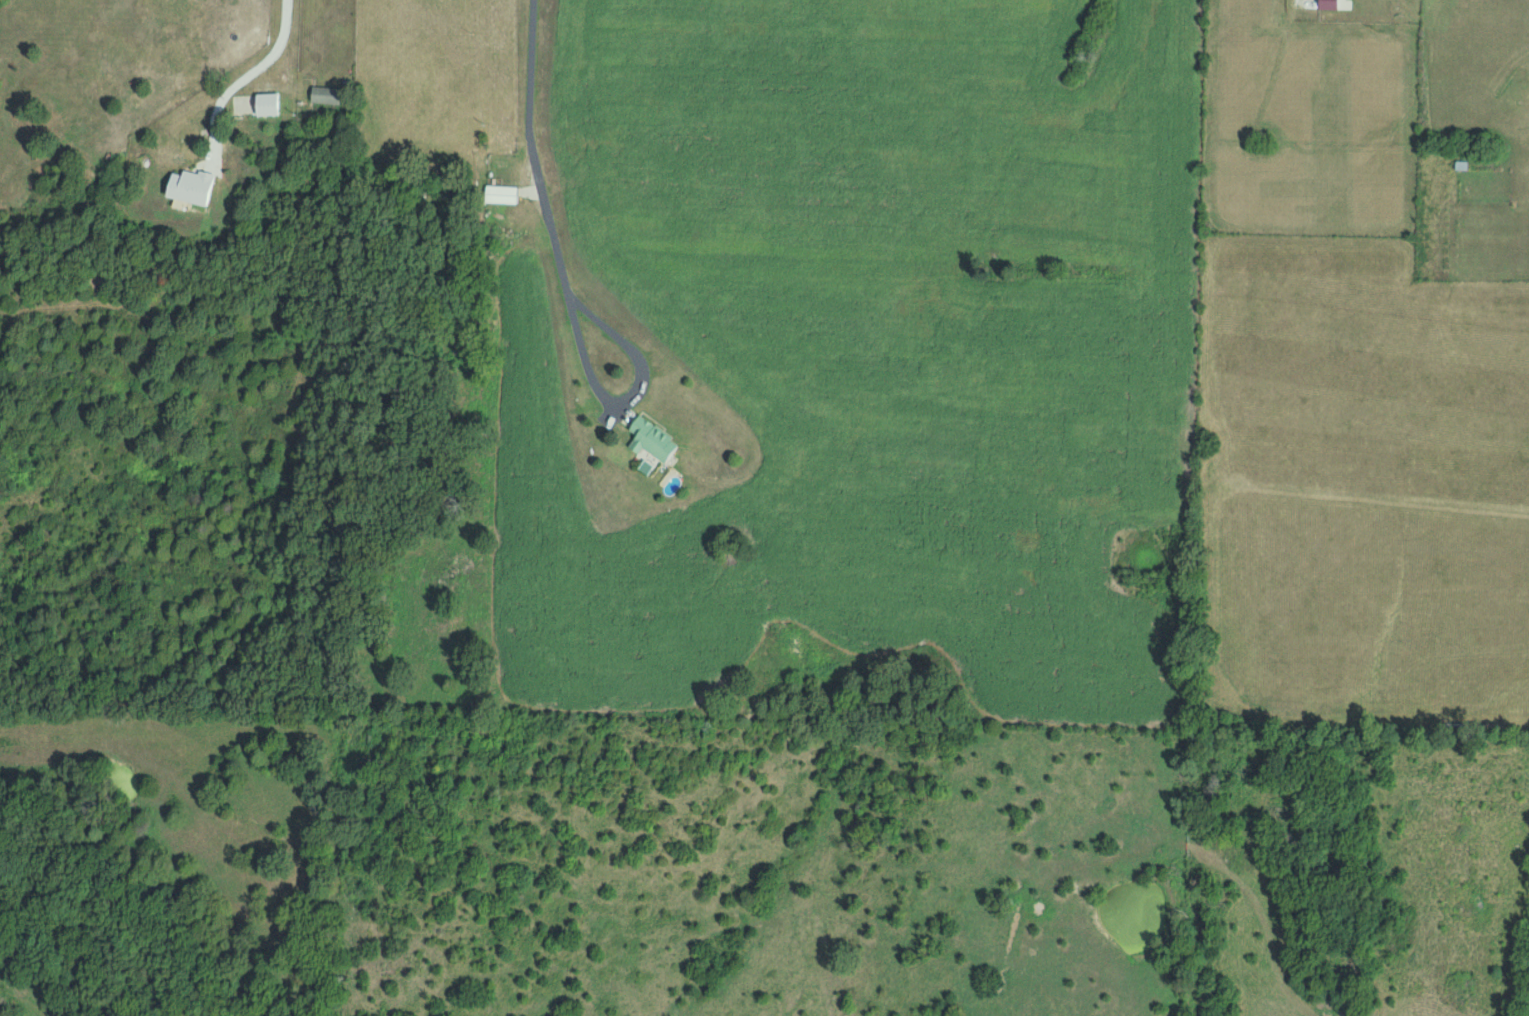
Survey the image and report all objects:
building: (1325, 4)
road: (248, 70)
building: (322, 93)
building: (264, 103)
road: (531, 151)
building: (186, 185)
building: (498, 193)
road: (1203, 378)
road: (595, 383)
building: (649, 439)

